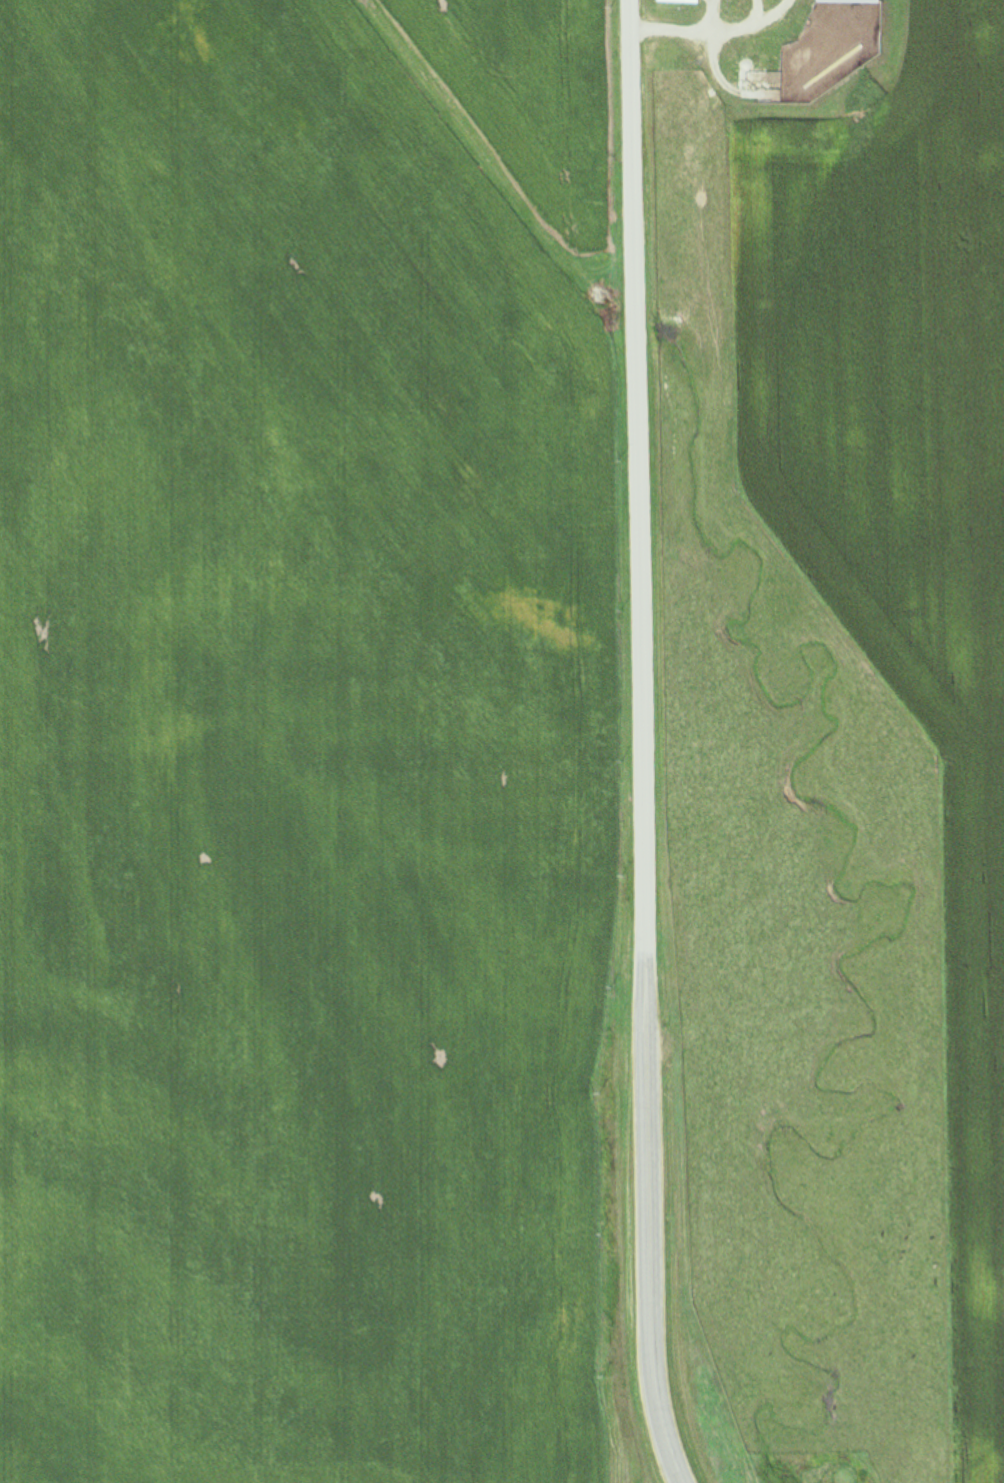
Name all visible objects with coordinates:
building: (681, 1)
building: (850, 1)
road: (759, 9)
road: (715, 36)
road: (711, 45)
building: (666, 52)
building: (760, 58)
building: (690, 95)
building: (675, 119)
road: (642, 743)

